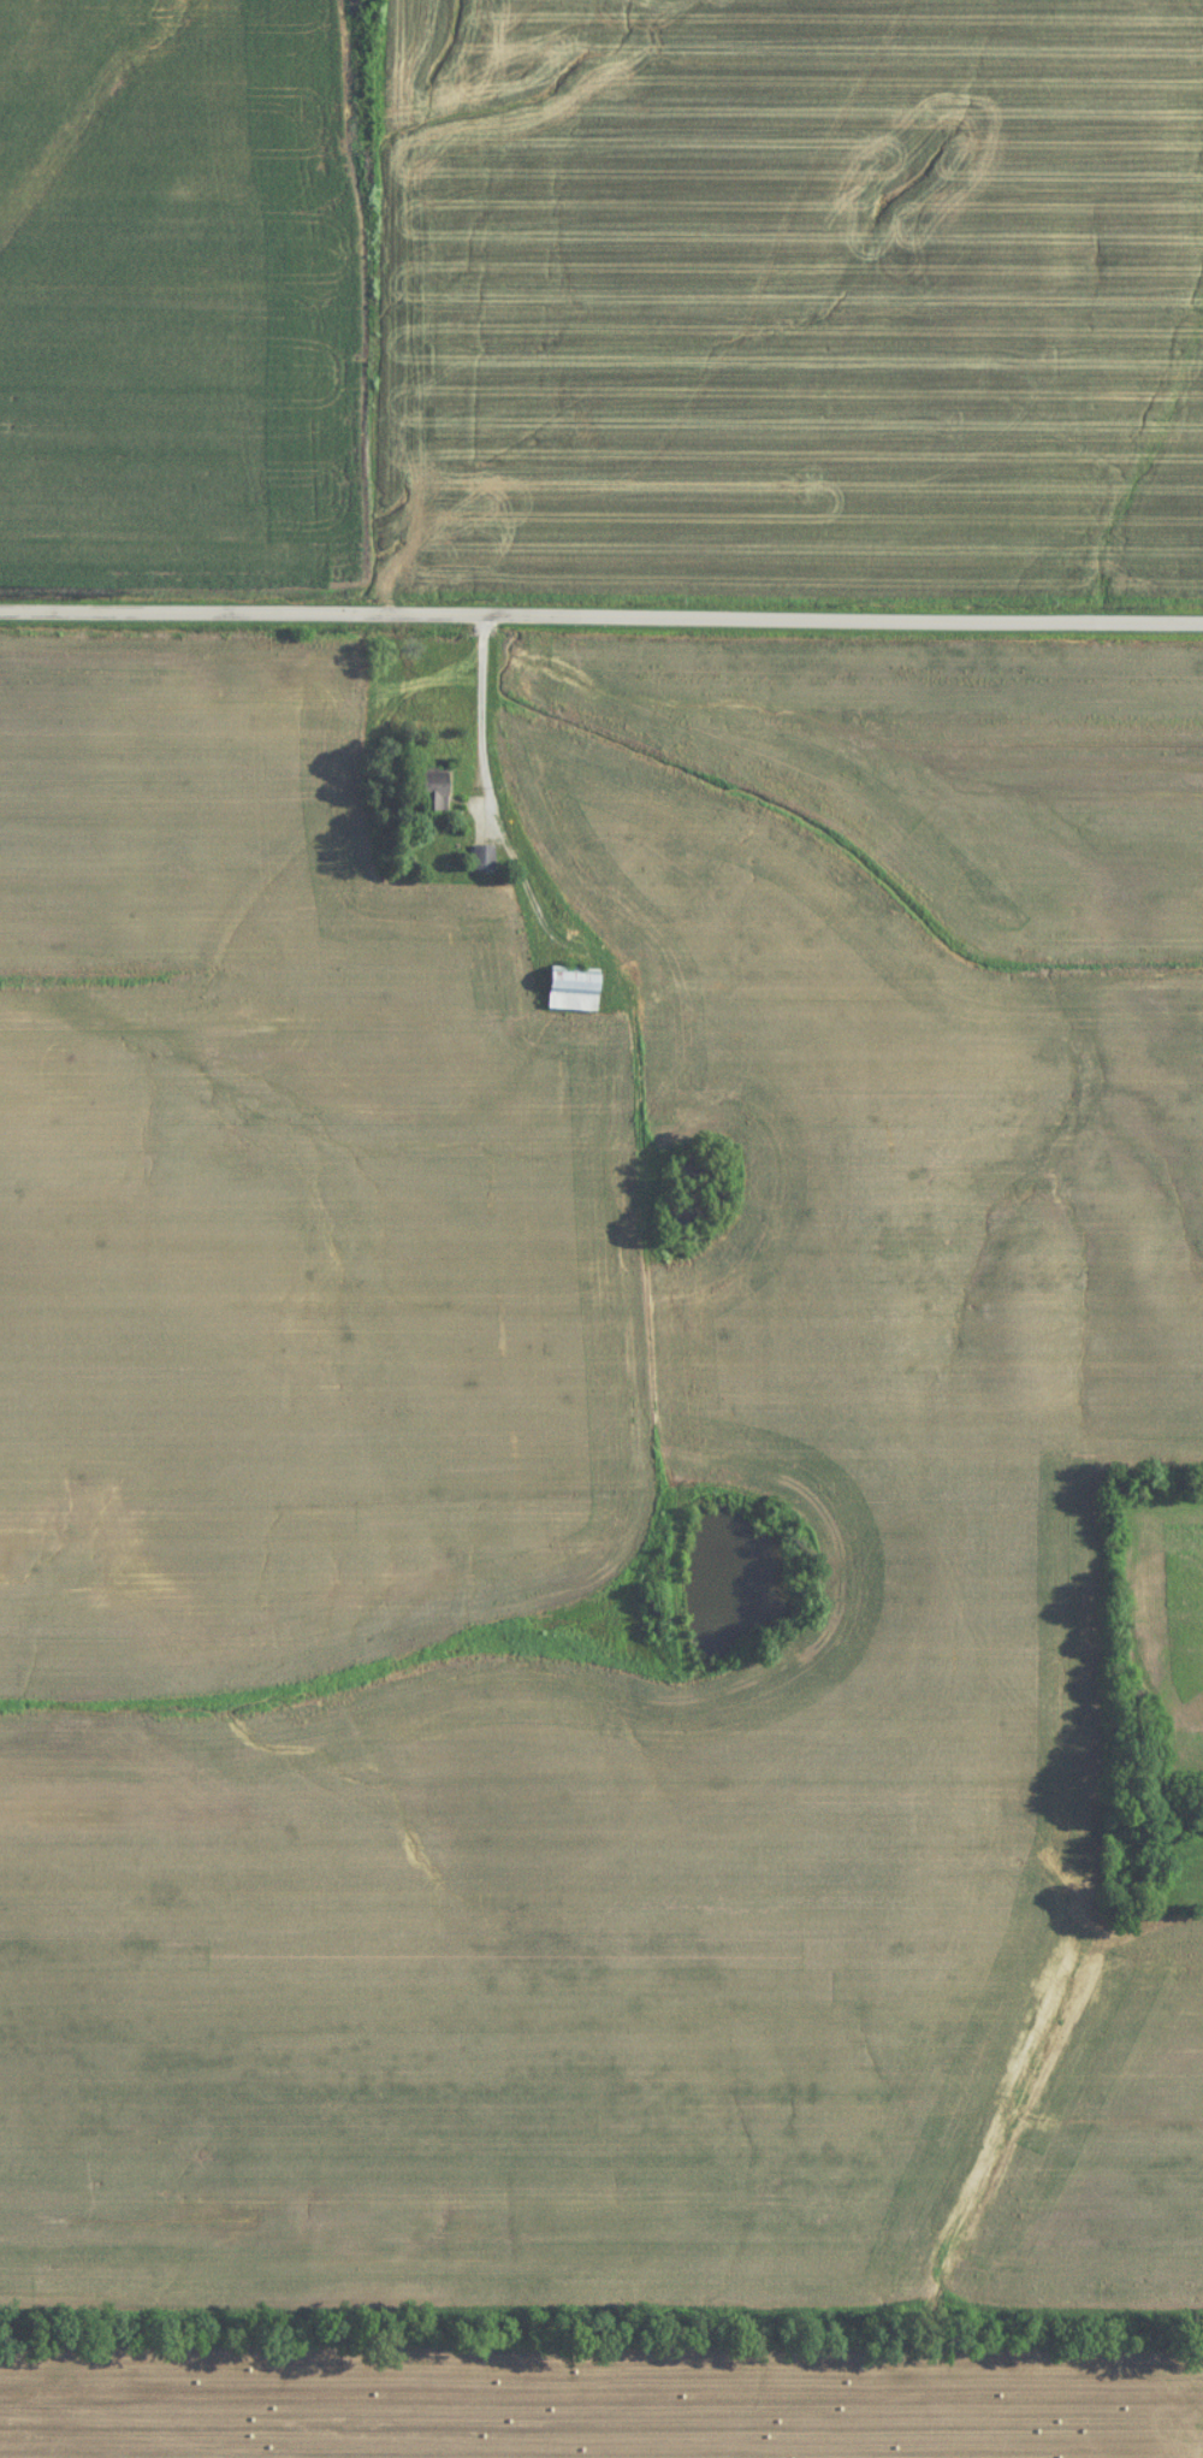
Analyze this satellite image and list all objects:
road: (601, 618)
road: (481, 733)
building: (438, 792)
building: (484, 861)
building: (575, 992)

